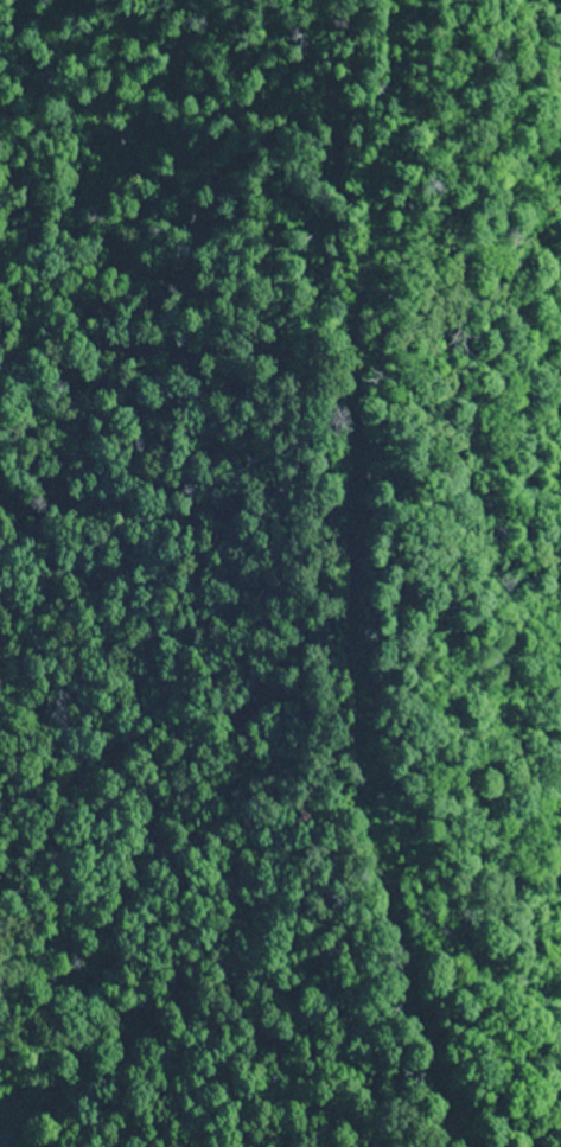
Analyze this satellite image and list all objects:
building: (7, 1139)

